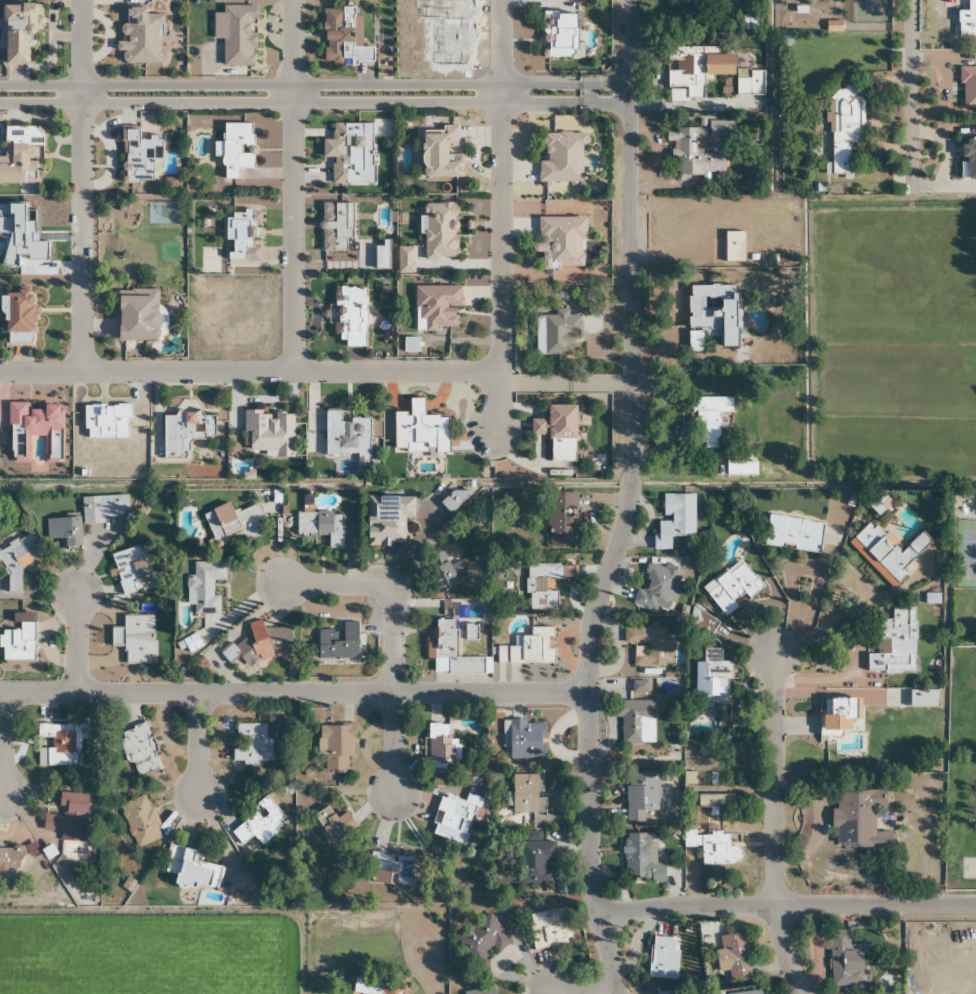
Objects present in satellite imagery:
building: (967, 20)
building: (747, 21)
building: (17, 33)
building: (559, 34)
building: (140, 37)
building: (685, 74)
building: (748, 81)
road: (313, 84)
building: (967, 86)
road: (773, 88)
road: (912, 97)
road: (313, 102)
building: (842, 126)
building: (698, 146)
building: (236, 148)
building: (439, 152)
building: (345, 153)
building: (140, 156)
building: (562, 158)
building: (967, 158)
building: (16, 163)
road: (291, 186)
road: (80, 187)
road: (499, 218)
building: (560, 241)
building: (732, 246)
building: (437, 306)
building: (136, 316)
building: (18, 317)
building: (712, 318)
building: (555, 332)
road: (248, 373)
building: (708, 420)
building: (184, 430)
building: (419, 430)
building: (557, 431)
building: (269, 433)
building: (345, 435)
road: (627, 501)
building: (102, 508)
building: (561, 520)
building: (673, 520)
building: (233, 522)
building: (320, 526)
building: (64, 531)
building: (793, 534)
building: (885, 552)
building: (16, 561)
building: (130, 570)
building: (449, 572)
building: (542, 586)
building: (203, 587)
building: (655, 588)
building: (732, 588)
road: (394, 638)
building: (134, 639)
road: (78, 642)
building: (18, 643)
building: (264, 643)
building: (337, 643)
building: (893, 643)
building: (189, 644)
building: (645, 646)
building: (530, 647)
building: (452, 652)
building: (711, 680)
road: (294, 692)
building: (838, 715)
building: (636, 721)
building: (523, 739)
road: (3, 743)
building: (57, 744)
road: (198, 744)
building: (438, 745)
building: (251, 746)
building: (338, 747)
building: (138, 751)
building: (525, 793)
building: (640, 798)
building: (65, 815)
building: (455, 817)
building: (856, 820)
building: (139, 821)
building: (258, 822)
road: (773, 826)
building: (334, 828)
building: (710, 846)
building: (10, 858)
building: (536, 859)
building: (639, 859)
building: (190, 868)
building: (388, 869)
road: (787, 906)
building: (548, 929)
building: (482, 939)
building: (732, 958)
building: (662, 959)
building: (843, 961)
road: (431, 971)
building: (374, 986)
building: (481, 991)
building: (669, 991)
road: (581, 992)
building: (747, 992)

